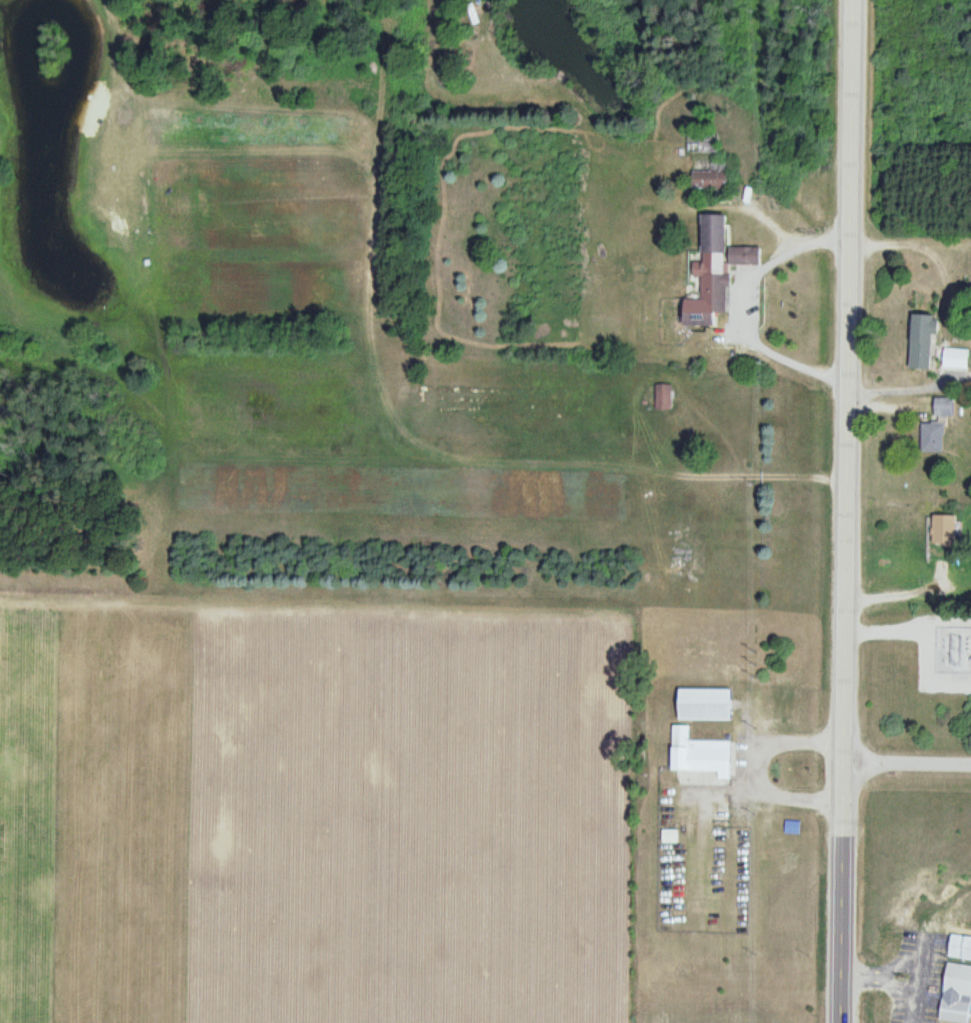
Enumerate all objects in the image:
building: (700, 142)
building: (711, 176)
building: (718, 269)
building: (923, 355)
building: (956, 359)
building: (662, 397)
building: (943, 407)
building: (933, 438)
road: (846, 511)
building: (945, 529)
power substation: (953, 641)
building: (701, 754)
road: (907, 765)
building: (792, 827)
building: (960, 947)
building: (956, 994)

